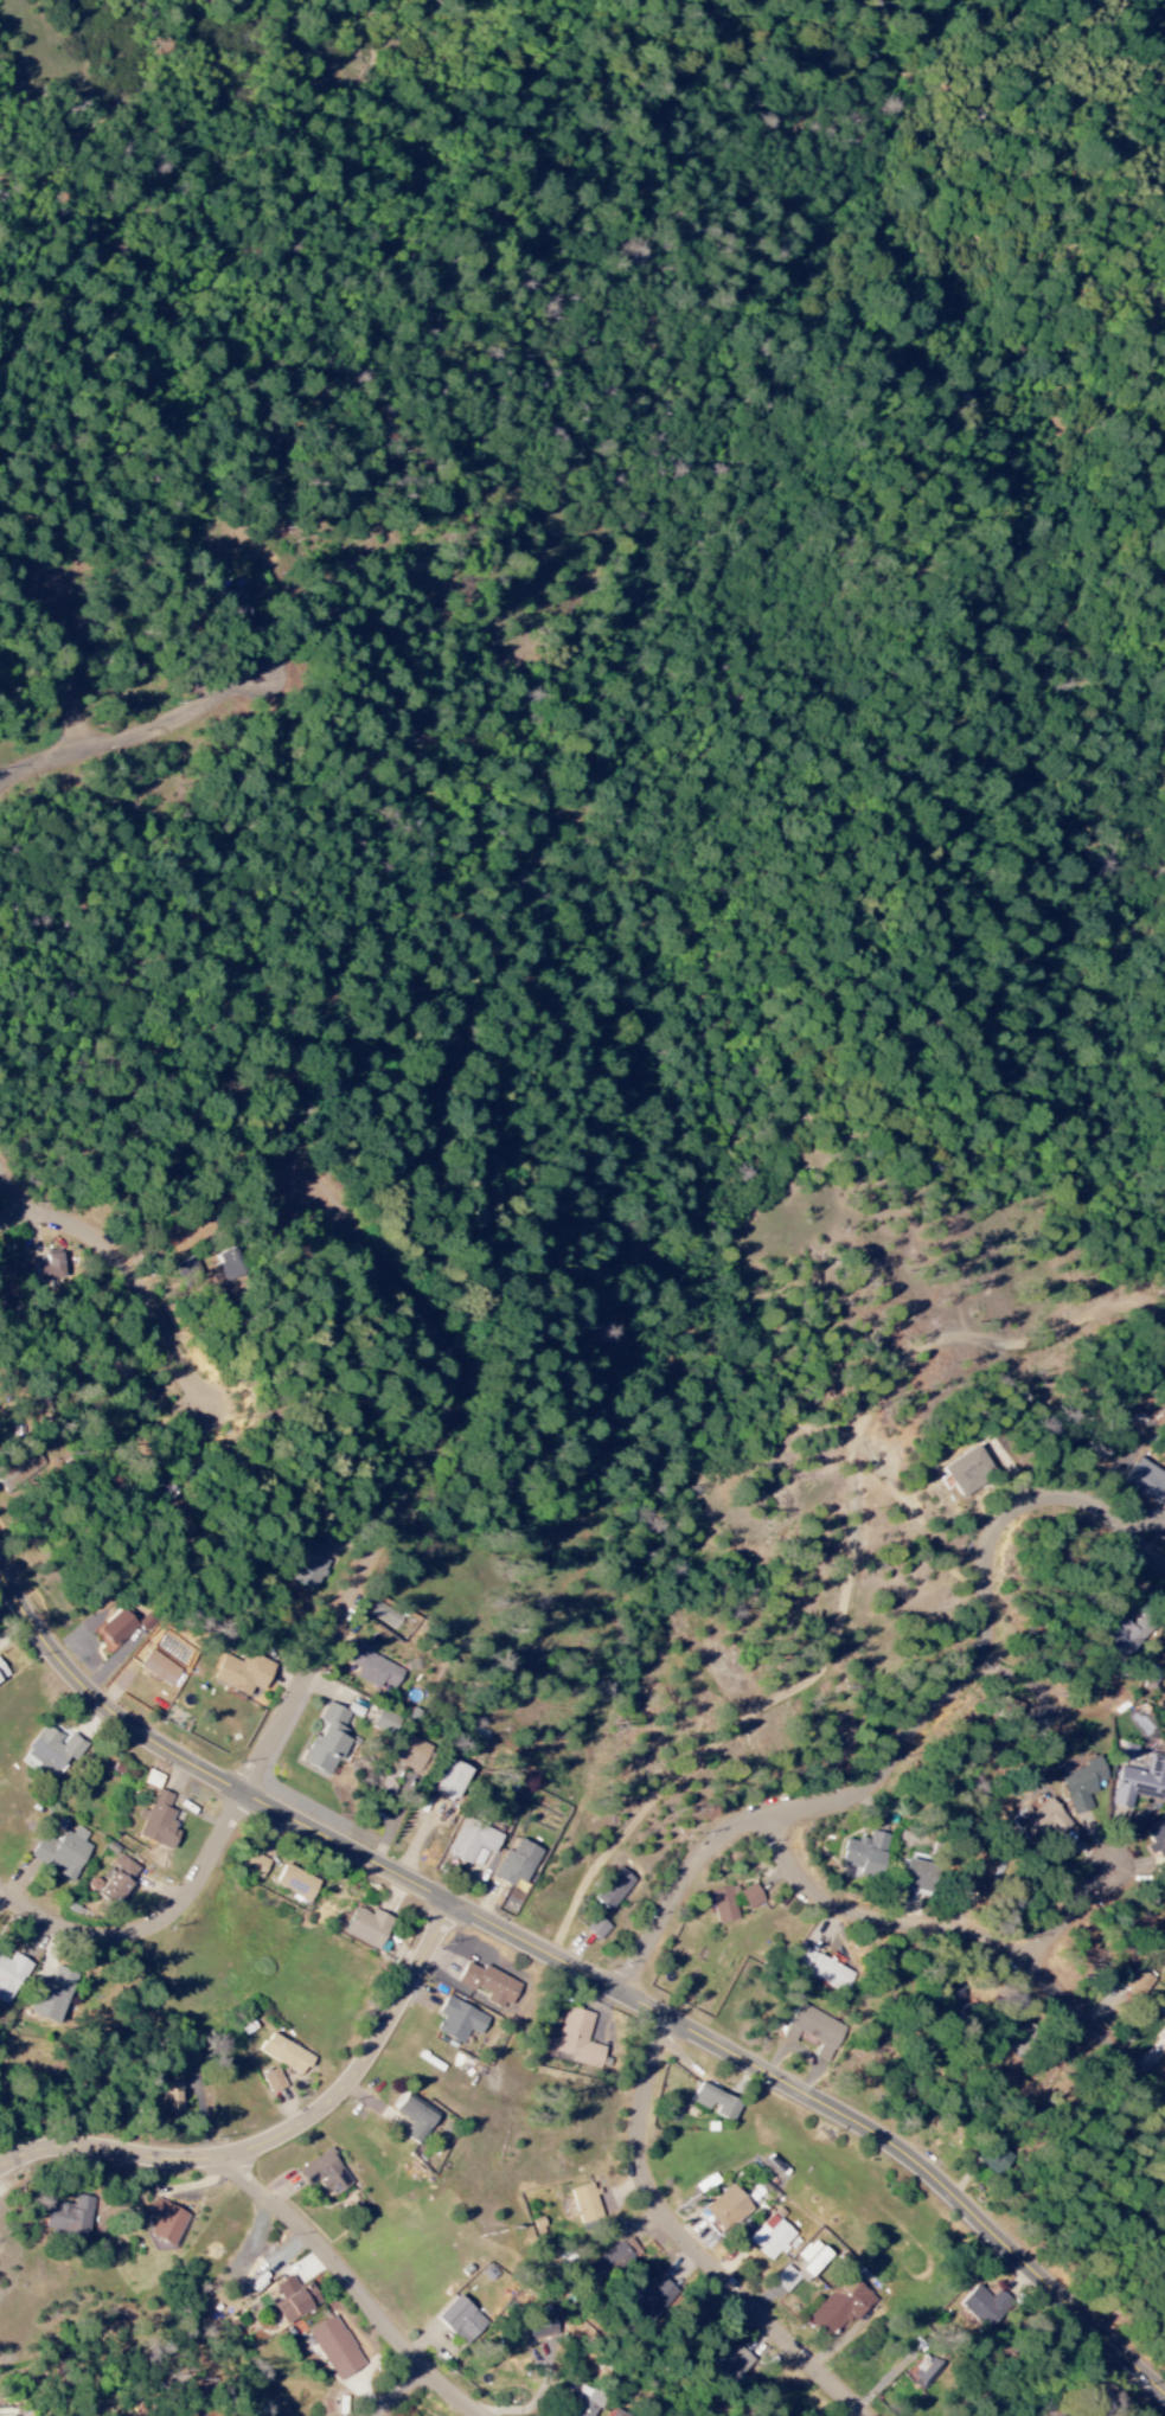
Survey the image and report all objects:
building: (219, 601)
road: (88, 651)
road: (151, 736)
road: (9, 1194)
building: (185, 1233)
building: (228, 1265)
building: (51, 1267)
road: (134, 1271)
road: (425, 1460)
building: (969, 1470)
building: (1147, 1480)
building: (1164, 1504)
building: (309, 1564)
road: (845, 1575)
building: (117, 1628)
building: (1129, 1635)
building: (160, 1668)
building: (373, 1668)
building: (2, 1672)
building: (244, 1673)
building: (386, 1724)
road: (922, 1730)
building: (327, 1741)
building: (52, 1751)
building: (411, 1754)
building: (453, 1779)
building: (152, 1780)
building: (1140, 1783)
building: (1083, 1784)
building: (1041, 1821)
building: (158, 1822)
building: (472, 1840)
building: (1157, 1843)
building: (63, 1852)
building: (865, 1853)
building: (517, 1864)
building: (980, 1872)
building: (918, 1876)
building: (120, 1879)
building: (297, 1883)
building: (615, 1889)
building: (751, 1897)
building: (723, 1905)
road: (1077, 1918)
road: (153, 1925)
building: (367, 1928)
building: (597, 1928)
road: (971, 1934)
building: (1137, 1960)
road: (580, 1969)
building: (827, 1973)
building: (11, 1976)
building: (1135, 1982)
building: (491, 1985)
building: (52, 1997)
building: (1160, 2008)
building: (460, 2021)
building: (814, 2030)
building: (1161, 2036)
building: (577, 2039)
building: (287, 2055)
building: (273, 2081)
building: (171, 2098)
building: (717, 2102)
building: (416, 2119)
road: (284, 2138)
building: (325, 2174)
building: (587, 2204)
building: (728, 2209)
building: (70, 2217)
building: (166, 2222)
building: (772, 2237)
road: (691, 2244)
building: (614, 2260)
building: (812, 2261)
road: (359, 2287)
building: (655, 2294)
building: (295, 2300)
building: (840, 2307)
building: (984, 2307)
building: (462, 2321)
building: (335, 2348)
building: (730, 2365)
road: (398, 2392)
building: (583, 2403)
building: (987, 2415)

